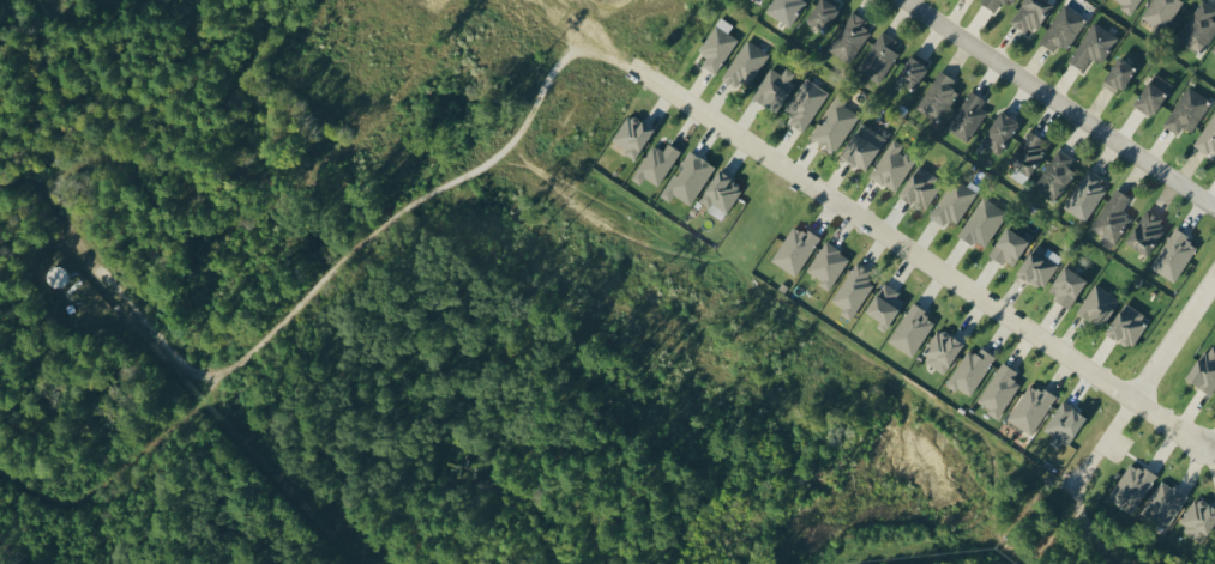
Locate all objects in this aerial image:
building: (1009, 1)
building: (991, 4)
building: (1127, 4)
building: (784, 10)
building: (1161, 12)
building: (822, 13)
building: (1029, 14)
building: (1063, 26)
building: (1198, 26)
building: (849, 36)
building: (717, 44)
building: (1093, 46)
building: (1214, 49)
building: (878, 56)
building: (745, 63)
building: (910, 71)
building: (1118, 74)
building: (774, 86)
building: (1151, 92)
building: (937, 96)
building: (805, 103)
road: (1063, 103)
building: (1186, 110)
building: (967, 115)
building: (835, 123)
building: (999, 131)
building: (632, 134)
building: (1207, 135)
building: (862, 145)
building: (1025, 154)
building: (655, 163)
building: (891, 165)
building: (1054, 175)
building: (687, 177)
building: (920, 187)
building: (720, 194)
building: (1085, 195)
building: (952, 201)
building: (1112, 216)
building: (982, 222)
building: (1145, 230)
building: (1009, 245)
building: (794, 249)
road: (924, 250)
building: (1173, 254)
building: (826, 265)
building: (1039, 265)
building: (1066, 283)
building: (852, 290)
building: (1097, 304)
building: (884, 305)
building: (1127, 323)
road: (1174, 328)
building: (910, 329)
building: (942, 351)
building: (970, 370)
building: (1204, 370)
building: (999, 389)
building: (1030, 407)
building: (1063, 424)
building: (1131, 486)
building: (1163, 504)
building: (1198, 518)

